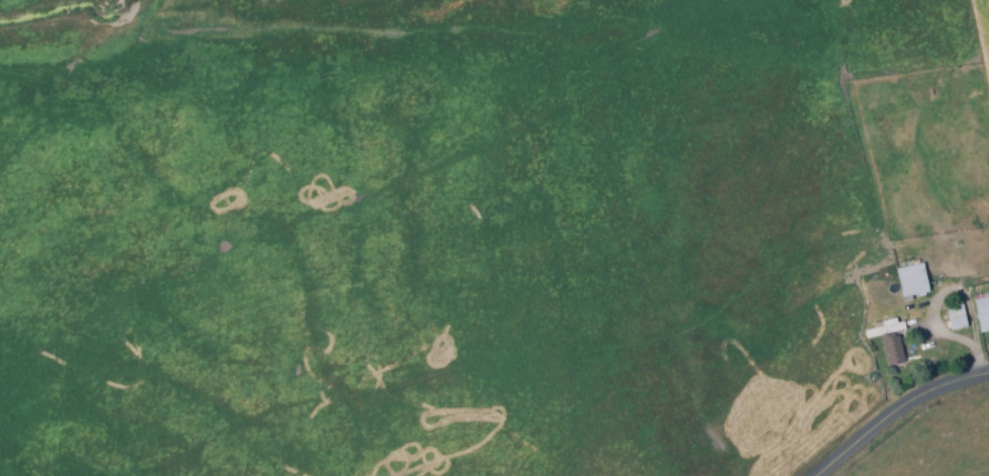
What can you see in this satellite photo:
building: (917, 273)
building: (984, 305)
building: (961, 310)
building: (890, 321)
building: (899, 345)
road: (899, 416)

